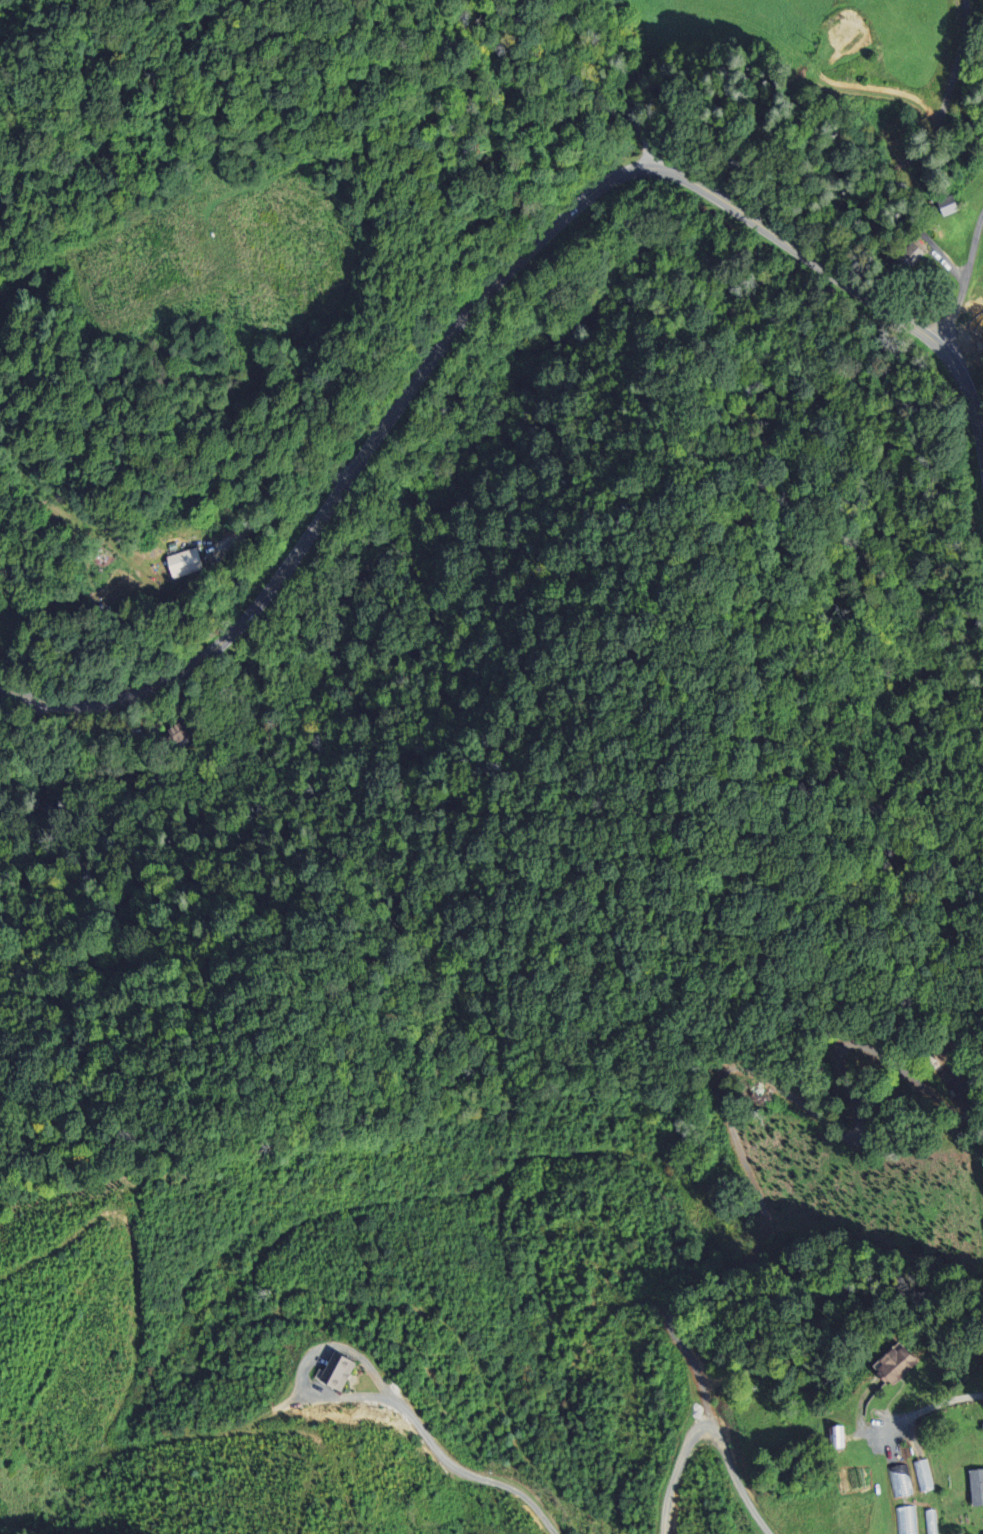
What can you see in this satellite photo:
road: (630, 85)
road: (963, 281)
road: (479, 299)
building: (184, 564)
building: (900, 1366)
building: (337, 1371)
road: (932, 1406)
building: (839, 1437)
road: (677, 1472)
road: (466, 1476)
building: (922, 1476)
building: (899, 1482)
road: (738, 1486)
building: (976, 1488)
building: (904, 1521)
building: (929, 1522)

